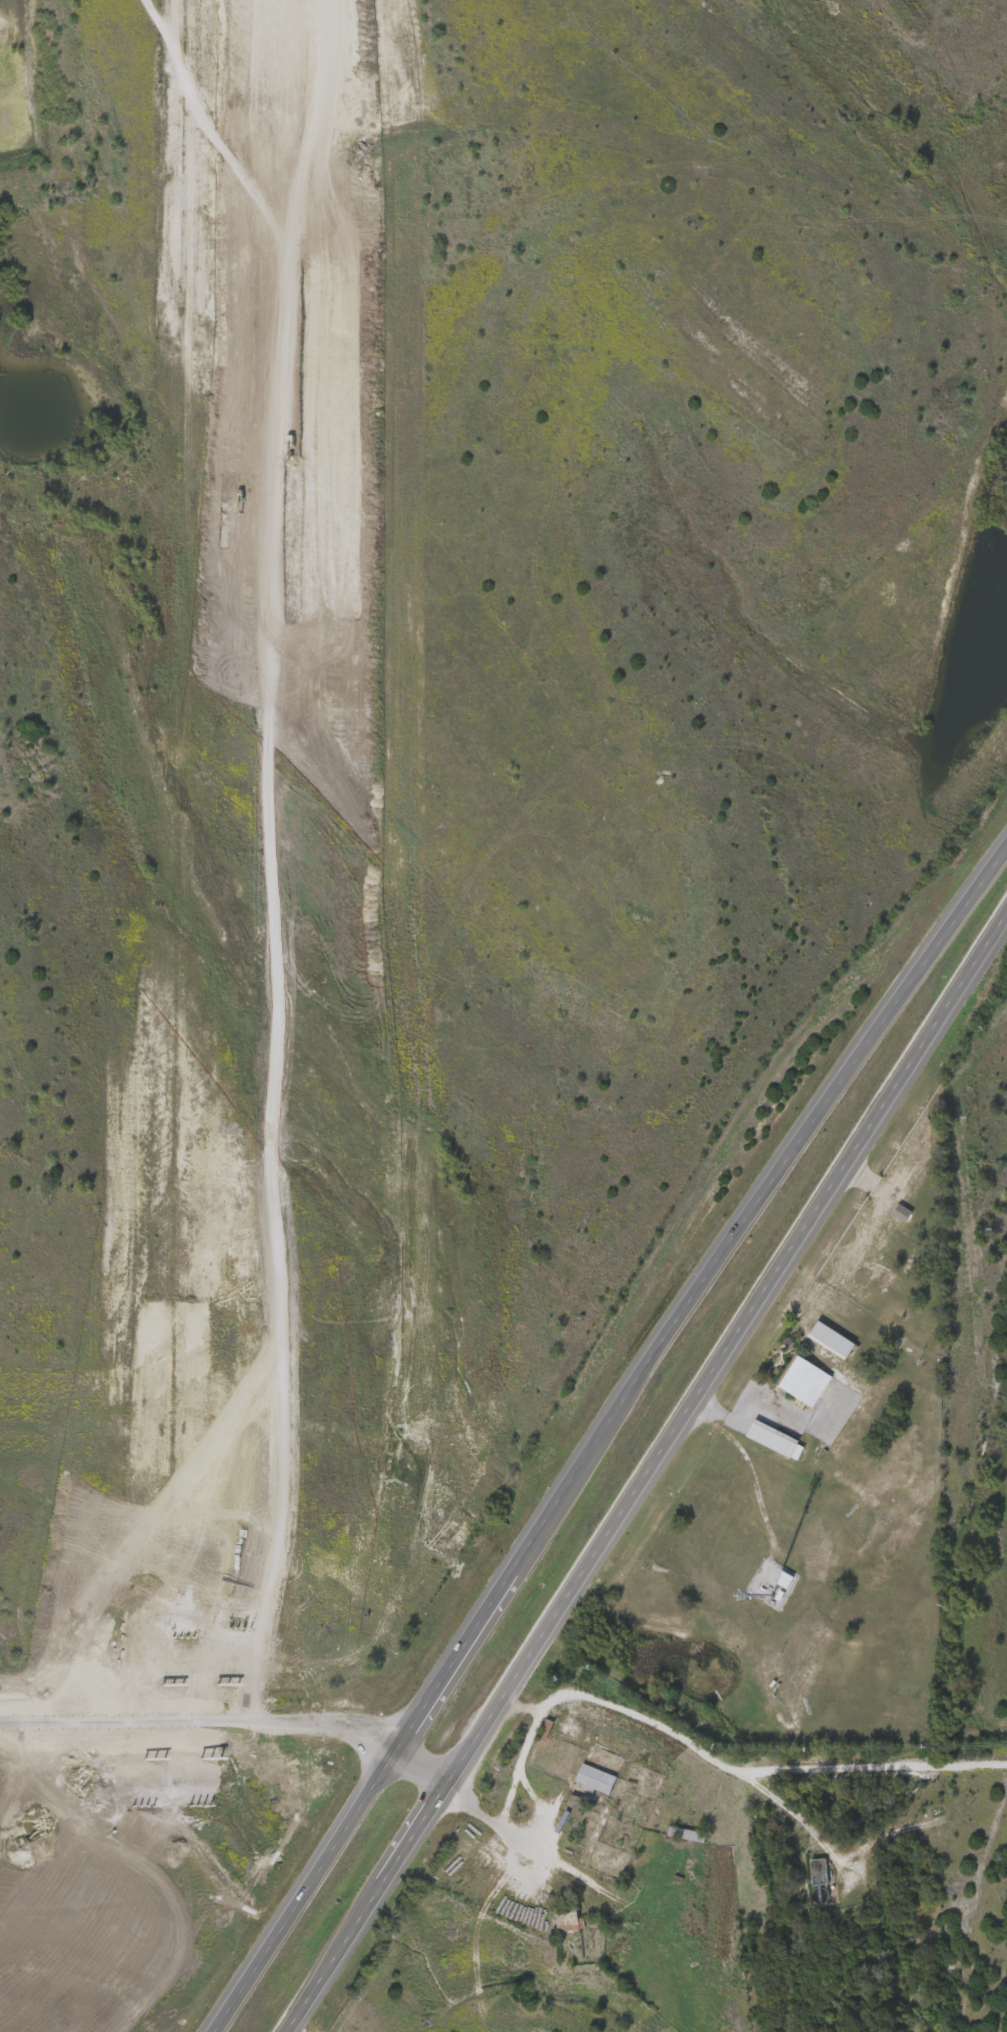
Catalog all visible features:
road: (263, 840)
building: (904, 1212)
building: (834, 1338)
building: (806, 1379)
road: (758, 1411)
road: (606, 1432)
building: (776, 1439)
road: (647, 1471)
road: (54, 1713)
road: (284, 1716)
building: (546, 1728)
road: (704, 1748)
building: (597, 1777)
road: (785, 1805)
road: (485, 1810)
building: (687, 1832)
building: (822, 1869)
building: (569, 1919)

